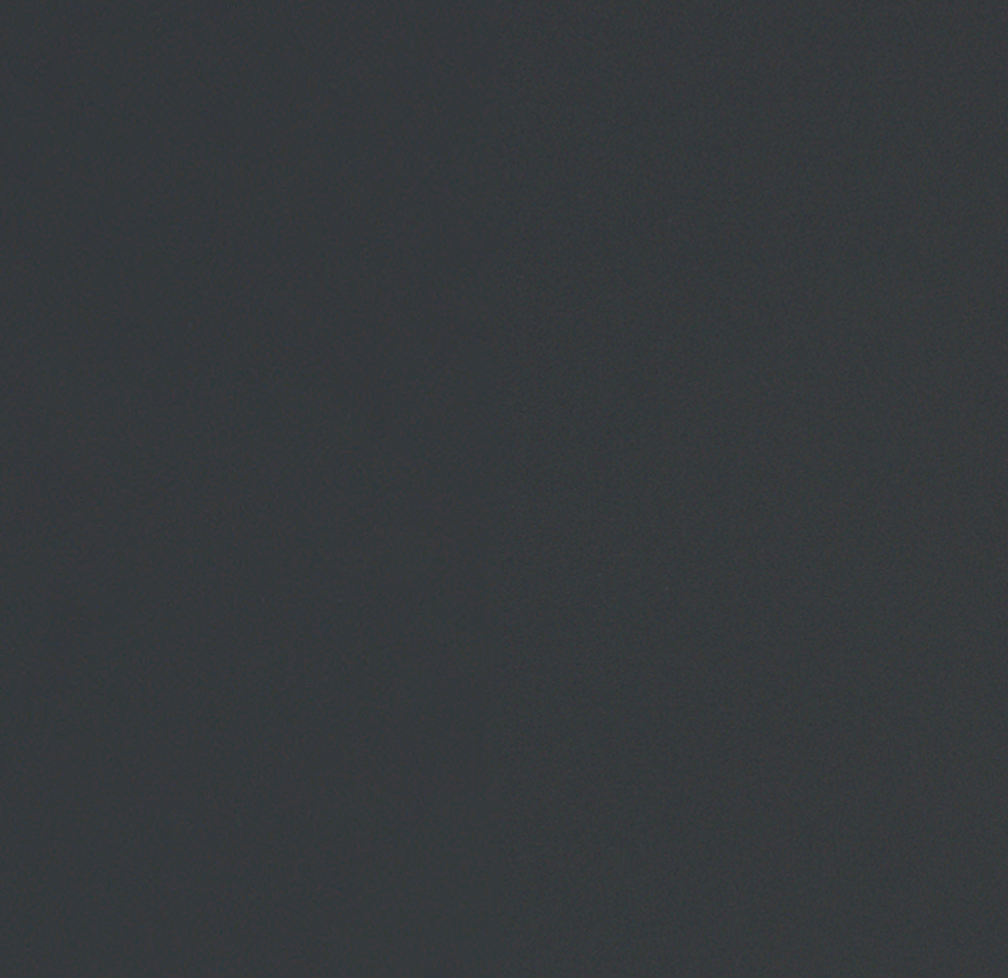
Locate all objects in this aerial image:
river: (950, 566)
river: (448, 779)

